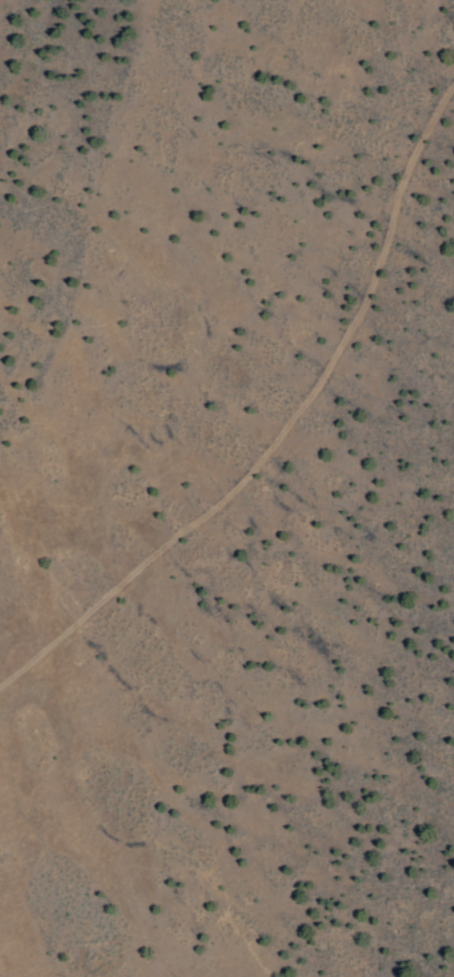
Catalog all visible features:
road: (287, 429)

